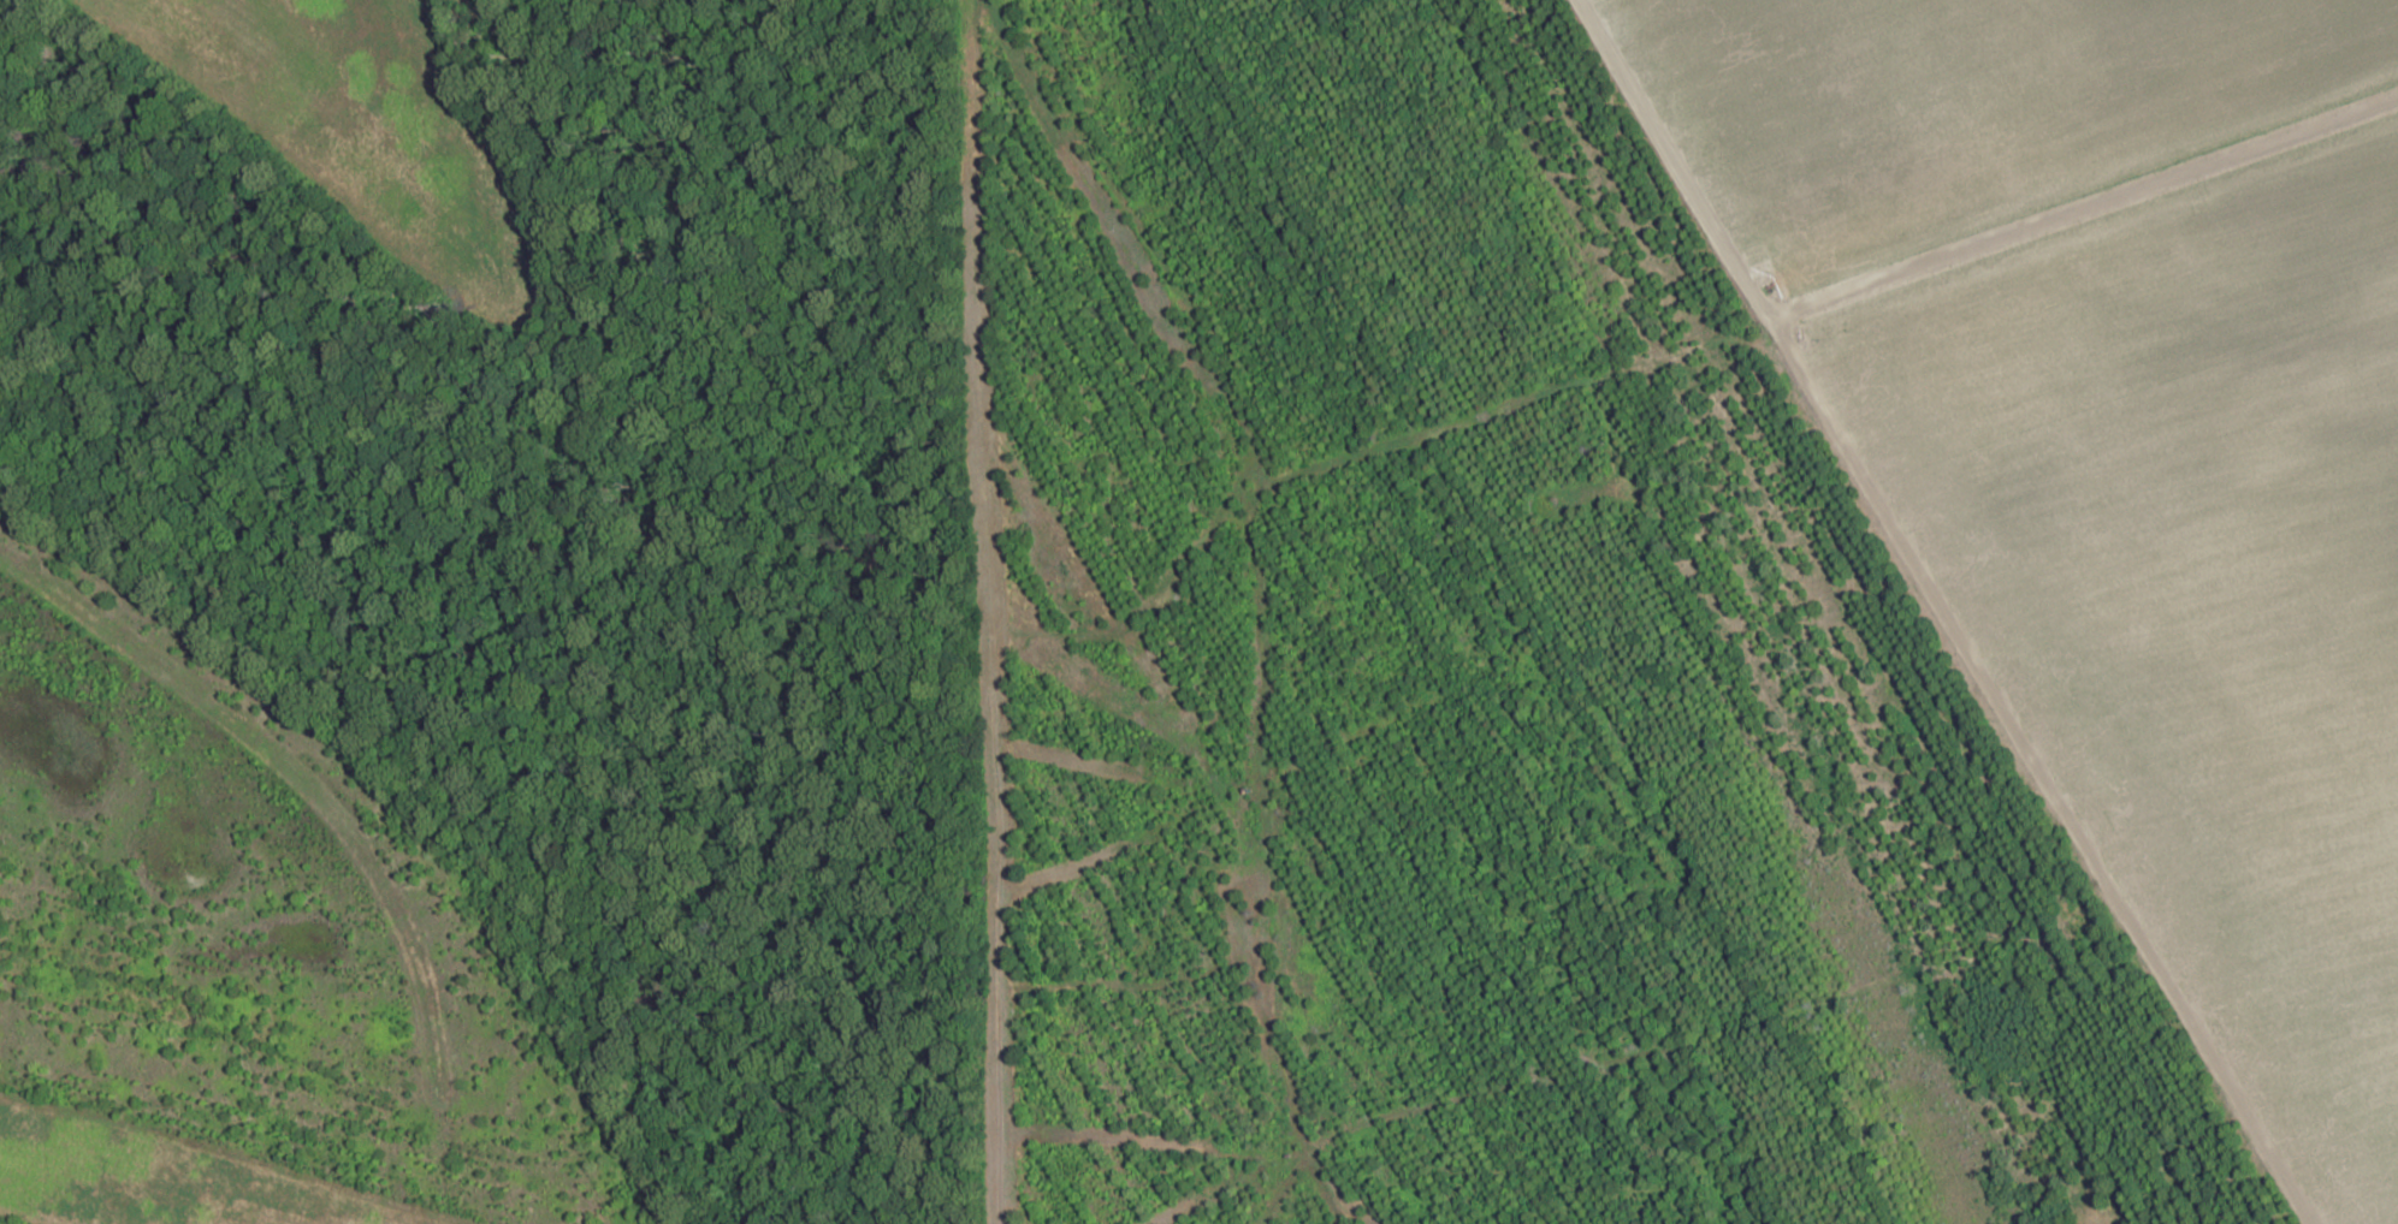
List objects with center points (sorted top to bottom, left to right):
road: (2082, 208)
road: (971, 612)
road: (1941, 612)

